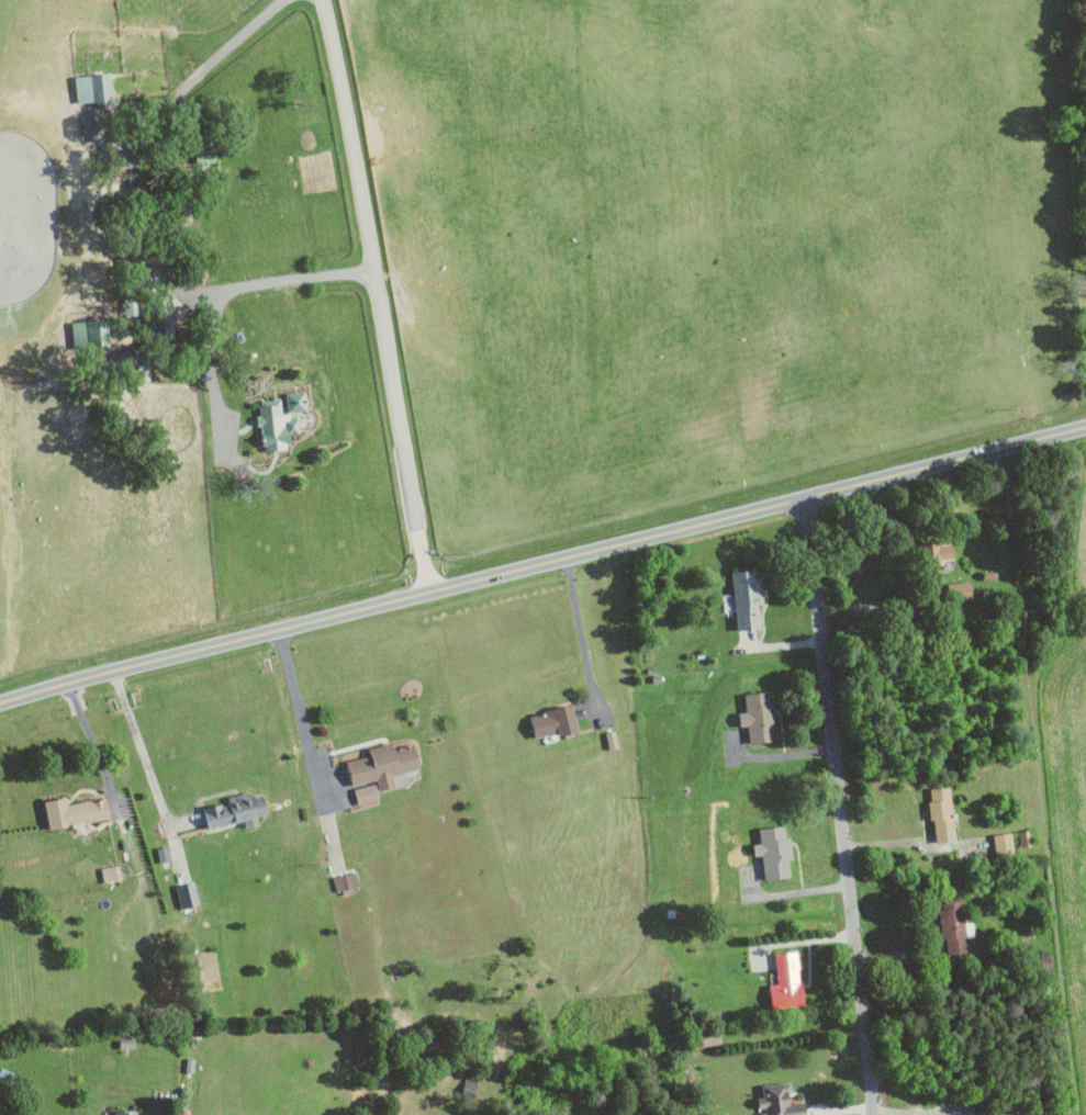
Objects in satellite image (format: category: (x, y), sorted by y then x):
building: (94, 88)
road: (139, 140)
building: (205, 151)
road: (220, 291)
road: (380, 295)
building: (91, 334)
building: (276, 425)
building: (938, 552)
road: (542, 565)
building: (960, 592)
building: (748, 599)
road: (877, 602)
road: (583, 637)
road: (296, 703)
building: (759, 717)
building: (557, 723)
road: (90, 739)
road: (139, 748)
road: (780, 755)
building: (385, 765)
building: (367, 793)
road: (841, 807)
building: (237, 810)
building: (76, 811)
building: (943, 814)
building: (1005, 843)
building: (775, 851)
building: (111, 872)
building: (347, 880)
road: (790, 891)
building: (188, 894)
building: (953, 926)
building: (787, 980)
building: (781, 1100)
building: (128, 1112)

